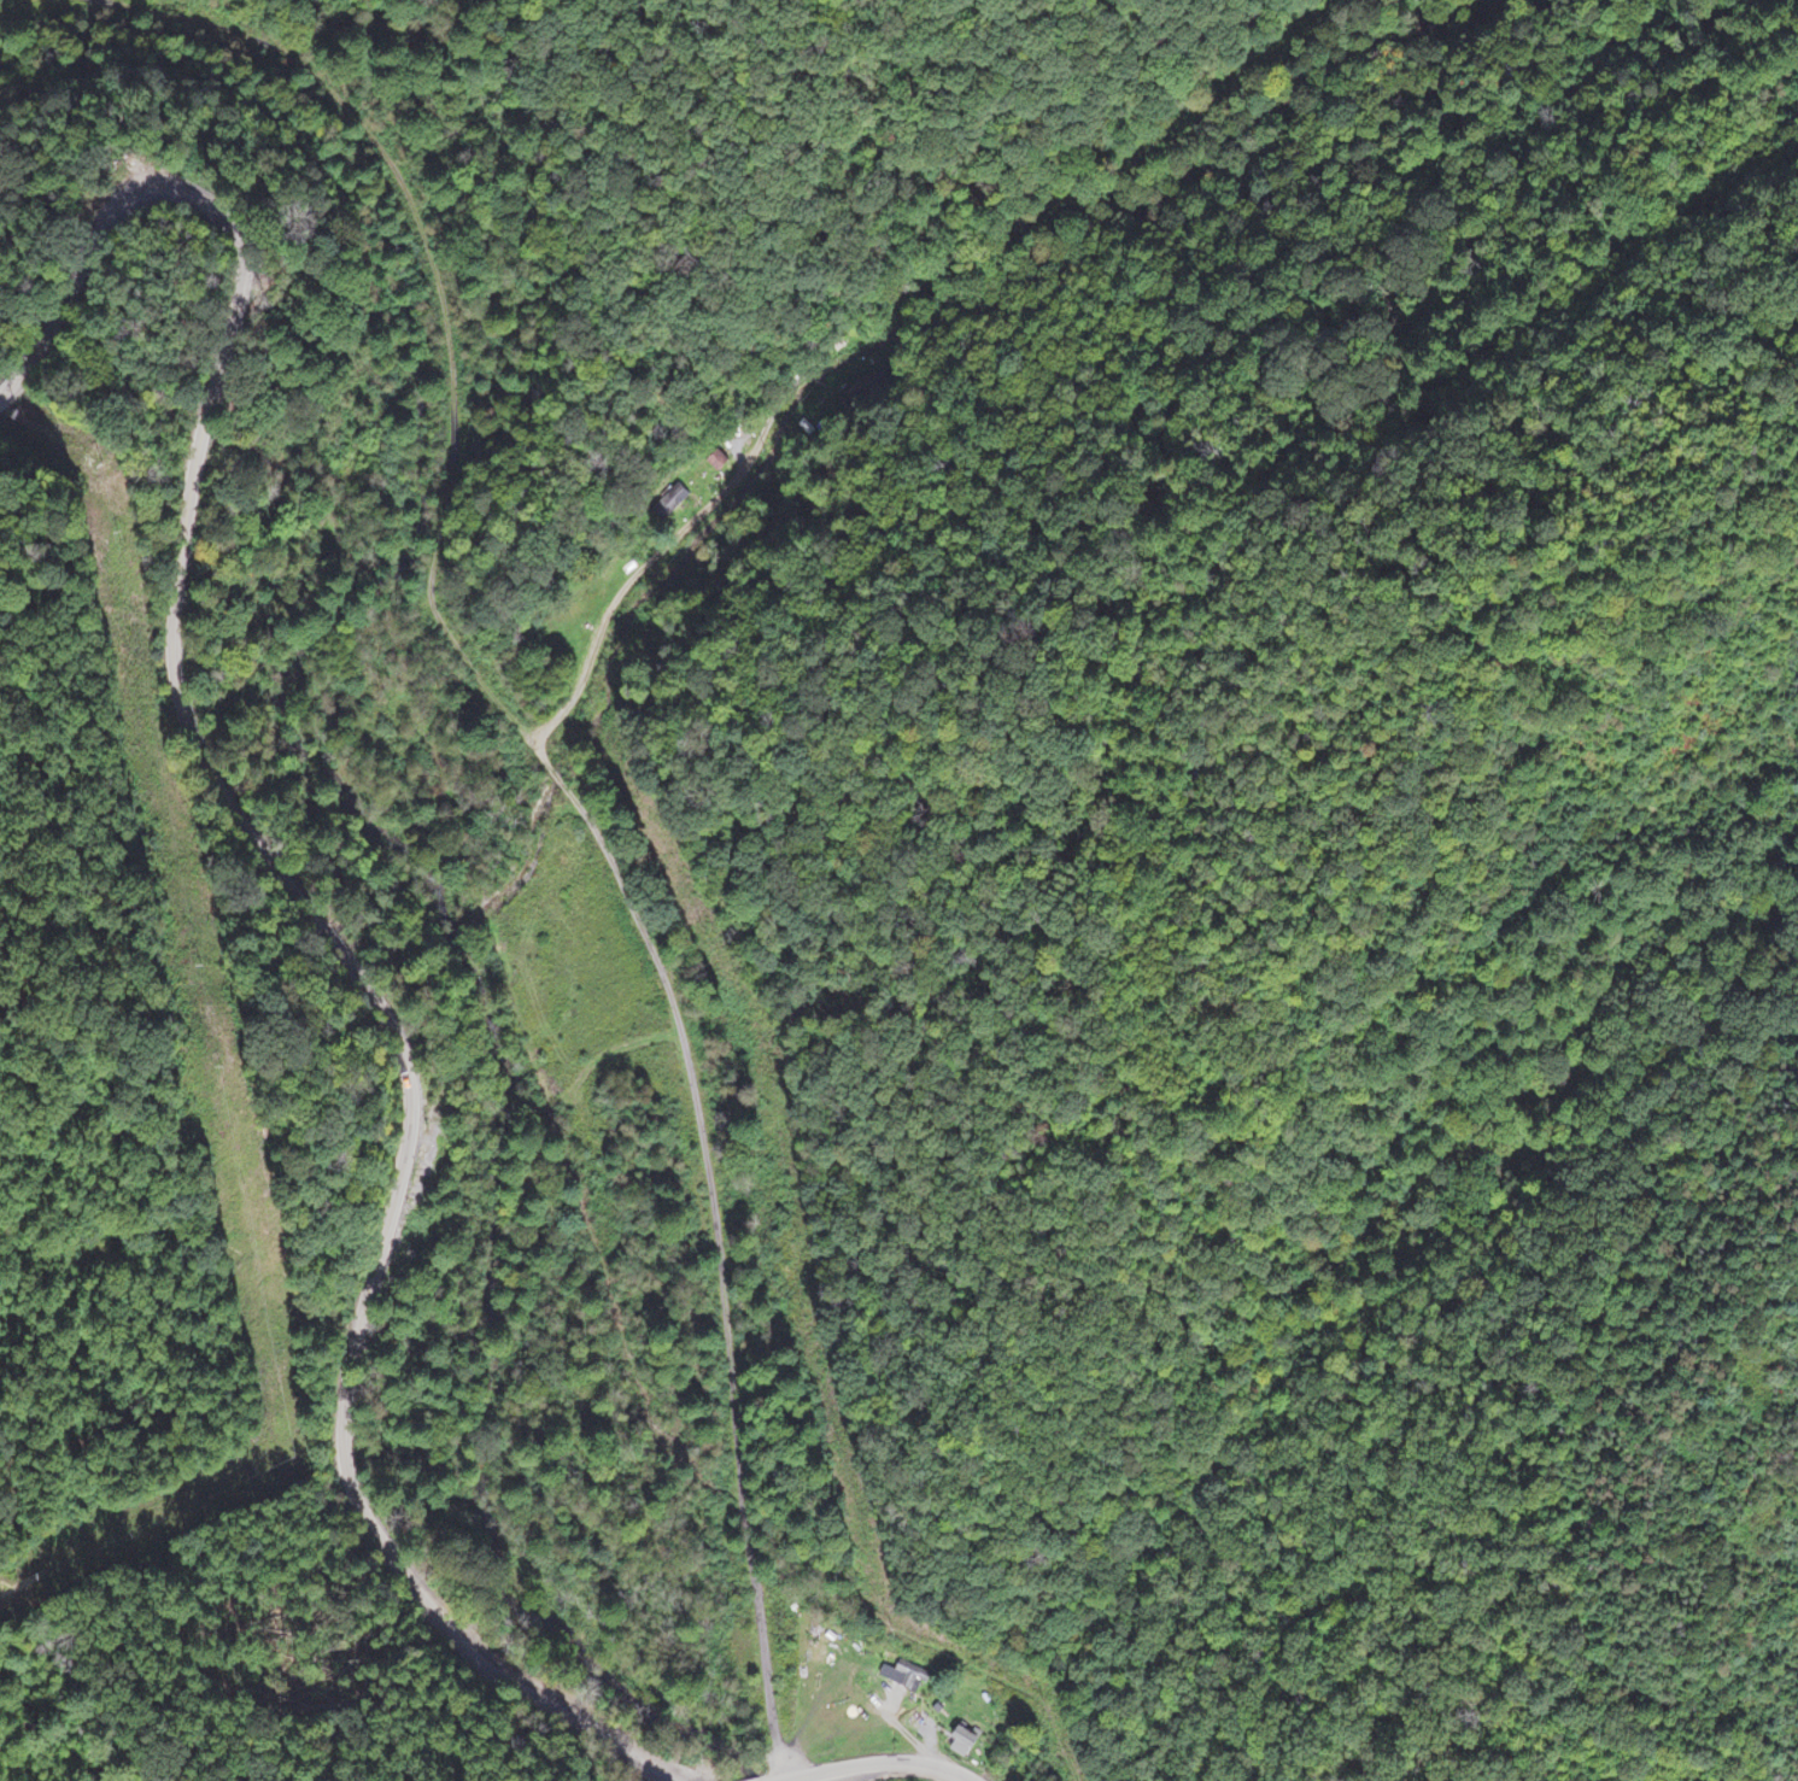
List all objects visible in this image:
building: (715, 459)
building: (670, 500)
road: (520, 745)
road: (306, 901)
building: (903, 1674)
building: (961, 1740)
road: (874, 1768)

